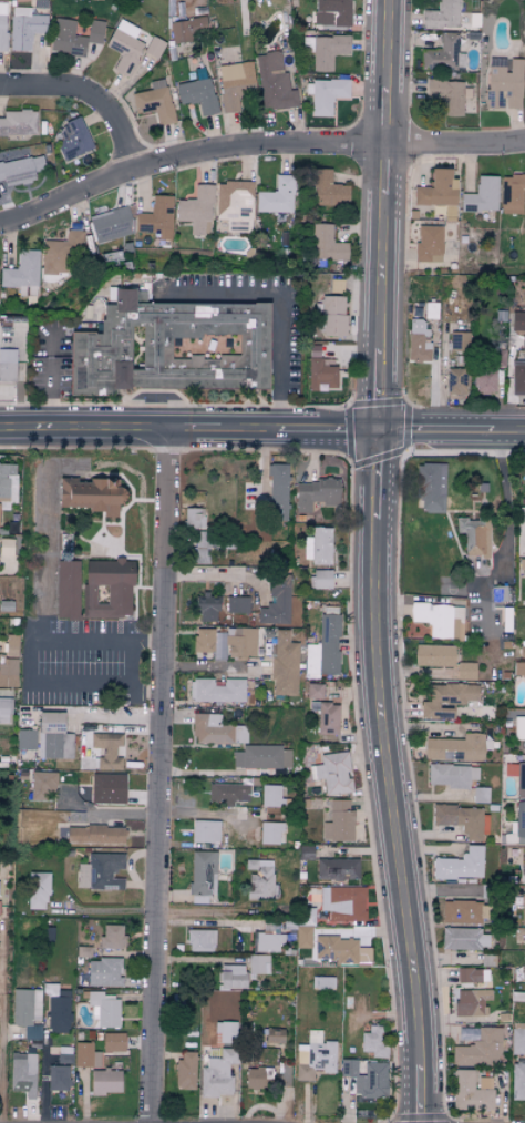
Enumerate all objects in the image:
building: (331, 12)
building: (441, 16)
building: (27, 24)
building: (2, 25)
building: (187, 29)
building: (73, 35)
building: (124, 47)
building: (154, 47)
building: (325, 50)
building: (443, 53)
building: (274, 82)
building: (234, 83)
building: (504, 83)
road: (94, 91)
building: (197, 94)
building: (446, 94)
building: (325, 95)
building: (154, 101)
building: (18, 122)
building: (71, 140)
road: (256, 150)
building: (20, 170)
building: (328, 188)
building: (435, 188)
building: (512, 193)
building: (481, 195)
building: (277, 196)
building: (235, 205)
building: (197, 210)
road: (385, 215)
building: (157, 217)
building: (112, 224)
building: (428, 243)
building: (326, 245)
building: (62, 253)
building: (22, 273)
road: (281, 298)
building: (430, 309)
building: (332, 315)
building: (517, 320)
building: (459, 340)
building: (418, 341)
building: (523, 343)
building: (171, 347)
building: (7, 365)
building: (319, 370)
building: (488, 374)
building: (517, 377)
building: (456, 380)
road: (50, 395)
road: (187, 431)
traffic signals: (377, 431)
road: (451, 432)
building: (6, 479)
building: (431, 487)
building: (277, 491)
building: (316, 493)
building: (90, 494)
building: (194, 518)
building: (474, 535)
building: (524, 539)
road: (504, 544)
building: (318, 545)
building: (6, 547)
road: (42, 554)
road: (219, 574)
building: (320, 579)
building: (66, 589)
building: (107, 589)
building: (498, 593)
building: (276, 602)
building: (237, 604)
building: (206, 608)
building: (439, 620)
building: (226, 642)
building: (10, 645)
building: (325, 647)
building: (522, 650)
building: (434, 655)
road: (25, 663)
building: (285, 664)
road: (215, 666)
building: (519, 668)
building: (465, 671)
building: (8, 672)
building: (216, 691)
building: (313, 691)
building: (447, 700)
building: (4, 712)
building: (326, 717)
building: (215, 731)
building: (519, 731)
building: (52, 736)
building: (25, 739)
building: (457, 748)
building: (106, 751)
building: (261, 757)
building: (332, 773)
building: (451, 776)
building: (516, 776)
road: (163, 777)
road: (393, 777)
building: (42, 786)
building: (107, 788)
building: (227, 793)
building: (480, 795)
building: (271, 796)
road: (105, 814)
road: (206, 815)
building: (462, 820)
building: (338, 821)
building: (517, 827)
building: (205, 831)
building: (271, 833)
building: (94, 835)
building: (524, 864)
building: (460, 866)
building: (337, 869)
building: (100, 871)
building: (202, 877)
building: (259, 879)
building: (37, 890)
building: (342, 900)
building: (523, 909)
building: (464, 912)
building: (303, 928)
building: (111, 937)
building: (268, 939)
building: (463, 939)
building: (199, 940)
building: (340, 950)
road: (1, 952)
building: (258, 964)
building: (524, 964)
road: (0, 968)
building: (103, 972)
building: (473, 976)
building: (231, 977)
building: (323, 982)
road: (1, 988)
building: (472, 1003)
building: (56, 1010)
building: (104, 1010)
building: (27, 1011)
building: (225, 1031)
building: (274, 1035)
building: (518, 1039)
building: (373, 1041)
building: (113, 1042)
building: (480, 1050)
road: (1, 1055)
building: (85, 1055)
building: (313, 1056)
building: (185, 1070)
building: (22, 1073)
building: (217, 1074)
building: (56, 1078)
building: (256, 1078)
building: (367, 1078)
building: (518, 1081)
building: (104, 1082)
road: (43, 1091)
building: (471, 1092)

